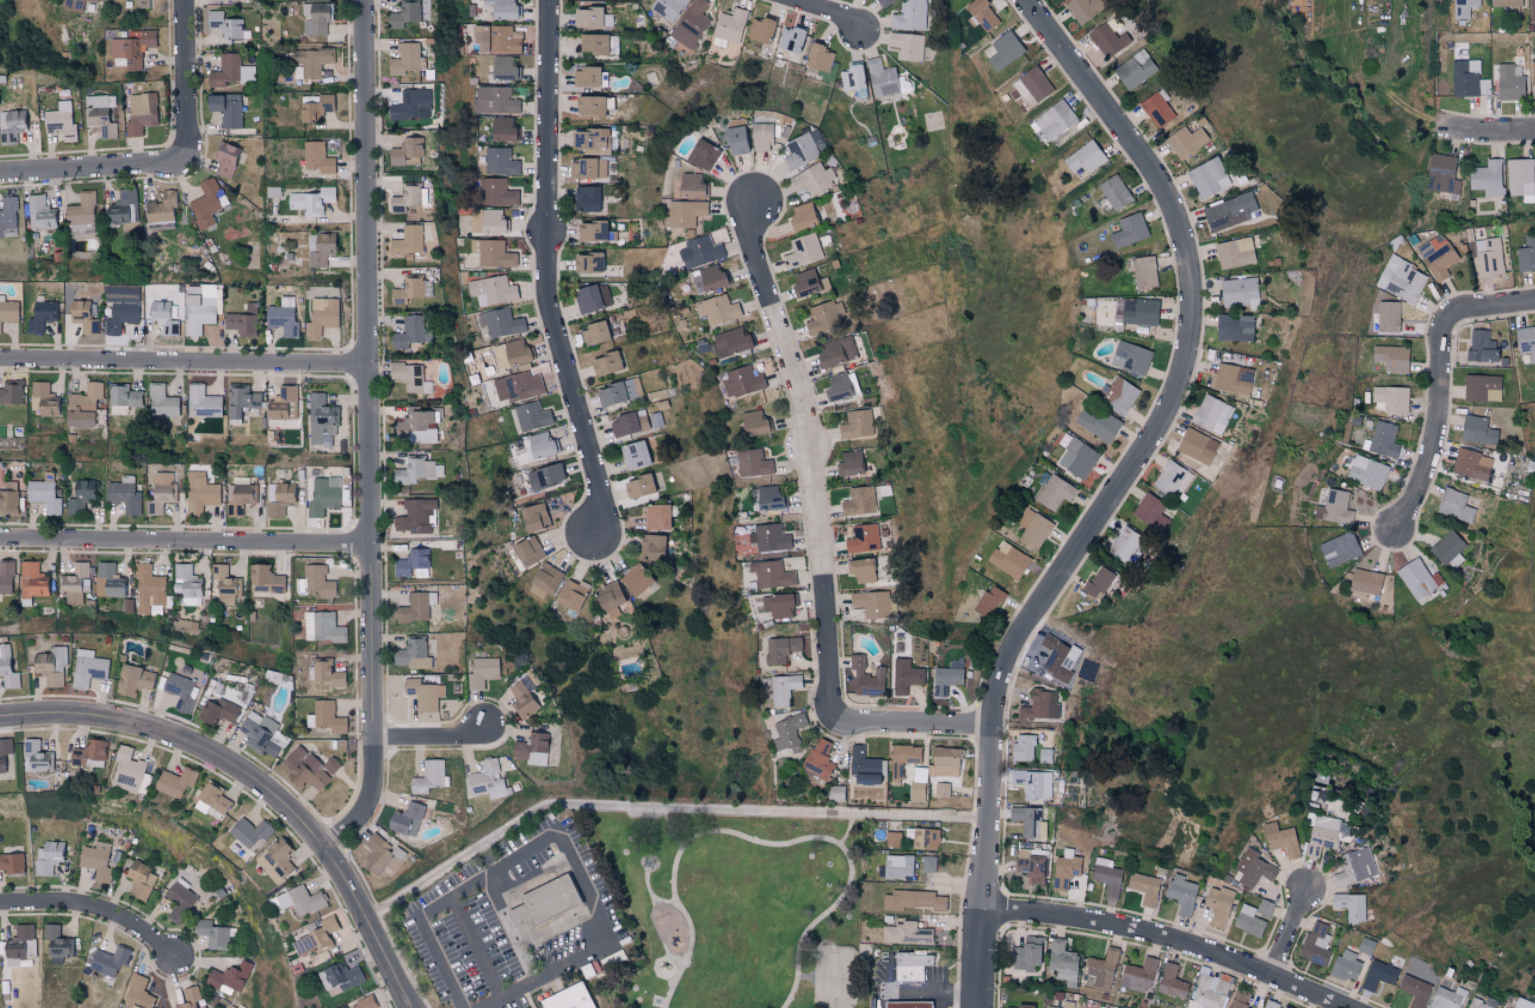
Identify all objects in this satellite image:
building: (142, 3)
building: (884, 3)
building: (1506, 3)
building: (76, 4)
building: (668, 8)
building: (1464, 8)
building: (504, 9)
building: (1081, 9)
building: (1531, 11)
road: (827, 12)
building: (404, 14)
building: (980, 14)
building: (910, 16)
building: (315, 19)
building: (591, 19)
building: (690, 24)
building: (226, 25)
building: (730, 26)
building: (760, 31)
building: (497, 39)
building: (790, 40)
building: (1108, 40)
building: (592, 45)
building: (907, 46)
building: (1005, 50)
building: (818, 58)
building: (408, 60)
building: (312, 61)
building: (505, 69)
building: (1135, 70)
building: (231, 71)
road: (184, 77)
building: (590, 78)
building: (851, 78)
building: (882, 79)
building: (1532, 79)
building: (1467, 82)
building: (1509, 82)
building: (1033, 85)
building: (495, 101)
building: (411, 106)
building: (589, 106)
building: (314, 108)
building: (226, 109)
building: (1157, 110)
building: (141, 113)
building: (101, 114)
building: (60, 120)
building: (1054, 120)
building: (10, 125)
building: (503, 130)
road: (1492, 130)
building: (761, 138)
building: (591, 141)
building: (1186, 142)
building: (801, 151)
building: (407, 152)
building: (702, 155)
building: (317, 157)
building: (1085, 158)
building: (225, 159)
building: (501, 162)
building: (588, 169)
road: (95, 170)
building: (1441, 174)
building: (1205, 176)
building: (1486, 177)
building: (1520, 178)
building: (814, 179)
building: (692, 186)
building: (1114, 191)
building: (497, 192)
building: (407, 197)
building: (586, 199)
building: (311, 200)
building: (207, 202)
building: (123, 207)
building: (160, 207)
building: (82, 209)
building: (39, 211)
building: (1229, 211)
building: (683, 214)
building: (802, 216)
building: (8, 217)
building: (491, 221)
building: (593, 230)
building: (1129, 230)
building: (408, 241)
building: (319, 248)
building: (703, 249)
building: (802, 250)
building: (490, 252)
building: (1526, 254)
building: (1437, 256)
building: (1489, 256)
building: (586, 261)
building: (1144, 272)
road: (546, 273)
building: (712, 277)
building: (1402, 280)
building: (808, 283)
building: (412, 289)
building: (492, 290)
building: (1237, 291)
building: (591, 297)
building: (79, 308)
building: (199, 308)
building: (717, 309)
building: (8, 310)
building: (1139, 311)
building: (41, 315)
building: (121, 316)
building: (322, 316)
building: (1388, 316)
building: (284, 317)
building: (825, 317)
building: (163, 318)
building: (243, 321)
building: (500, 322)
building: (1233, 327)
building: (411, 331)
building: (594, 332)
building: (732, 341)
building: (1526, 341)
building: (1480, 346)
building: (836, 351)
building: (512, 353)
building: (1130, 357)
building: (1391, 357)
building: (604, 362)
road: (185, 364)
building: (408, 375)
building: (1231, 378)
building: (742, 381)
road: (1440, 383)
building: (517, 386)
building: (838, 387)
building: (1479, 387)
building: (616, 391)
building: (11, 392)
building: (1119, 395)
building: (1392, 398)
building: (241, 399)
building: (44, 400)
building: (125, 400)
building: (202, 401)
building: (162, 402)
building: (283, 404)
building: (83, 406)
building: (1212, 414)
building: (531, 415)
building: (322, 419)
building: (421, 423)
building: (754, 423)
building: (624, 424)
building: (857, 424)
building: (1098, 424)
building: (1477, 429)
road: (371, 435)
building: (1383, 439)
building: (540, 445)
building: (1197, 445)
road: (812, 451)
building: (635, 454)
building: (1076, 456)
building: (753, 463)
building: (851, 463)
building: (1471, 464)
building: (416, 470)
building: (1367, 472)
building: (544, 476)
building: (1168, 477)
road: (1119, 485)
building: (638, 486)
building: (162, 492)
building: (44, 493)
building: (1054, 493)
building: (125, 495)
building: (202, 495)
building: (323, 495)
building: (80, 496)
building: (9, 497)
building: (279, 497)
building: (769, 497)
building: (859, 501)
building: (1454, 505)
building: (1334, 507)
building: (1151, 512)
building: (416, 516)
building: (657, 516)
building: (534, 517)
building: (1034, 528)
building: (770, 538)
building: (864, 539)
road: (186, 544)
building: (1125, 544)
building: (652, 546)
building: (1447, 547)
building: (1339, 548)
building: (527, 550)
building: (1008, 560)
building: (861, 569)
building: (772, 574)
building: (6, 576)
building: (545, 577)
building: (266, 578)
building: (1416, 578)
building: (32, 580)
building: (107, 580)
building: (635, 580)
building: (1365, 581)
building: (314, 582)
building: (1099, 582)
building: (76, 583)
building: (187, 584)
building: (225, 586)
building: (149, 589)
building: (571, 594)
building: (609, 599)
building: (988, 601)
building: (875, 603)
building: (777, 605)
building: (416, 607)
building: (323, 627)
building: (782, 648)
building: (412, 654)
building: (1059, 658)
building: (51, 665)
building: (8, 668)
building: (88, 668)
building: (482, 672)
building: (328, 673)
building: (905, 676)
building: (866, 678)
building: (134, 679)
building: (945, 680)
building: (784, 688)
building: (181, 691)
building: (423, 694)
building: (523, 700)
building: (1041, 705)
building: (218, 711)
building: (328, 717)
road: (914, 724)
building: (789, 732)
building: (259, 733)
road: (434, 738)
building: (1023, 748)
building: (532, 749)
building: (5, 751)
building: (89, 754)
building: (905, 754)
building: (37, 757)
building: (863, 761)
building: (817, 762)
building: (308, 768)
building: (428, 776)
building: (866, 778)
building: (487, 780)
building: (176, 782)
building: (1033, 783)
road: (257, 785)
building: (942, 790)
building: (916, 792)
building: (836, 793)
building: (211, 800)
road: (662, 809)
building: (406, 819)
building: (1029, 821)
building: (249, 832)
road: (560, 833)
building: (1323, 834)
building: (925, 839)
building: (1281, 839)
road: (756, 841)
building: (380, 855)
building: (49, 856)
building: (96, 860)
building: (277, 860)
building: (12, 863)
building: (928, 864)
building: (898, 866)
building: (1355, 867)
building: (1031, 868)
building: (1065, 869)
building: (1253, 869)
building: (1107, 876)
building: (140, 880)
building: (1144, 888)
building: (1182, 893)
building: (179, 899)
building: (299, 900)
building: (914, 900)
building: (550, 903)
building: (1218, 905)
building: (1351, 906)
building: (1265, 907)
park: (734, 909)
road: (96, 910)
building: (1248, 920)
road: (816, 922)
road: (692, 926)
building: (213, 934)
building: (905, 934)
road: (1291, 934)
building: (316, 938)
road: (1168, 942)
building: (57, 943)
building: (1315, 944)
building: (21, 945)
road: (475, 949)
building: (1026, 954)
building: (107, 960)
building: (1063, 962)
building: (1346, 965)
building: (1101, 969)
building: (913, 973)
building: (342, 975)
building: (1138, 975)
building: (226, 978)
park: (835, 978)
road: (886, 978)
building: (1171, 982)
building: (138, 990)
building: (1414, 990)
building: (1210, 991)
road: (926, 993)
building: (191, 998)
building: (574, 998)
building: (1447, 998)
building: (1239, 999)
building: (364, 1003)
building: (1523, 1003)
building: (913, 1004)
building: (1271, 1004)
building: (1478, 1004)
building: (1065, 1005)
building: (132, 1006)
building: (1018, 1006)
building: (340, 1007)

